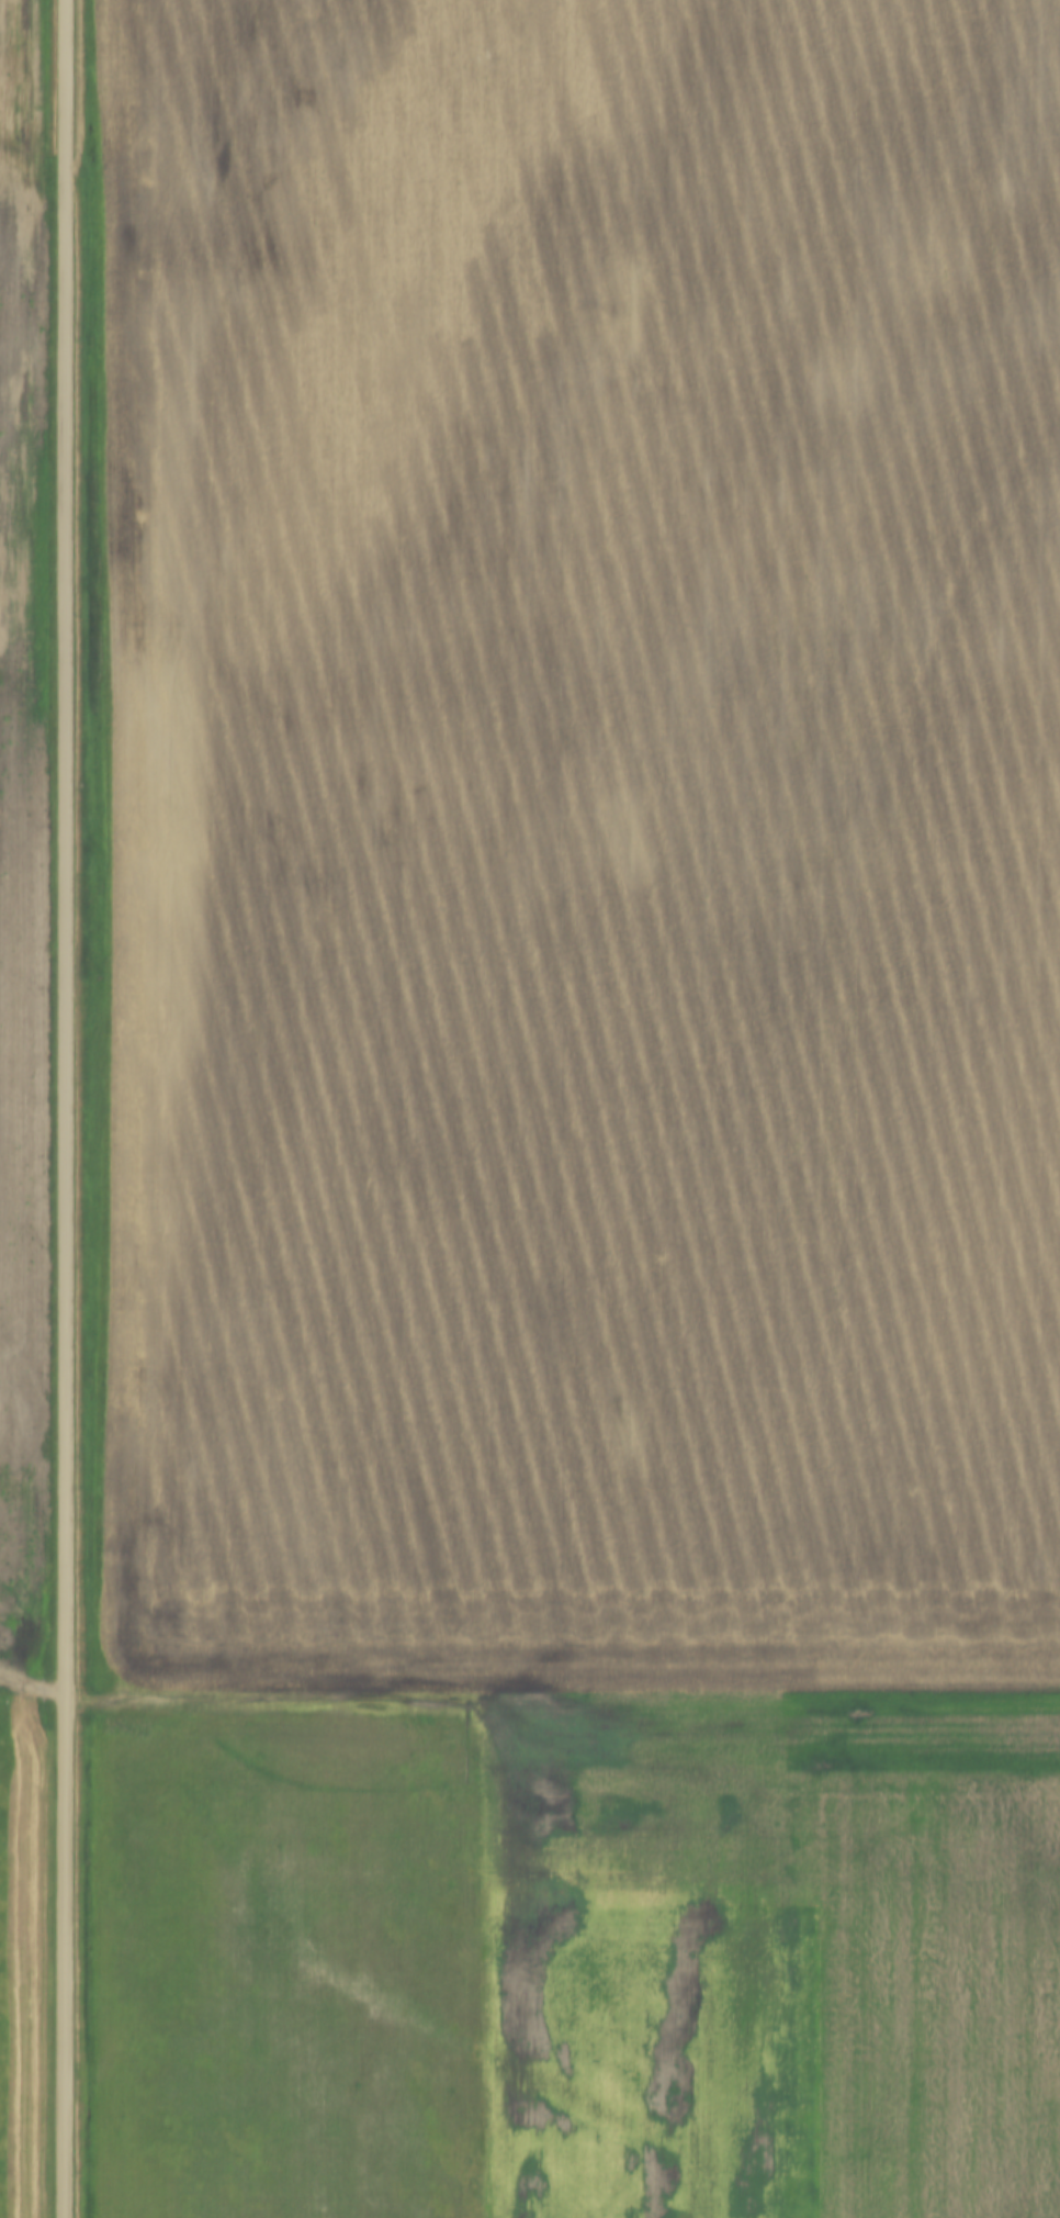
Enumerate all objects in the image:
road: (70, 1109)

